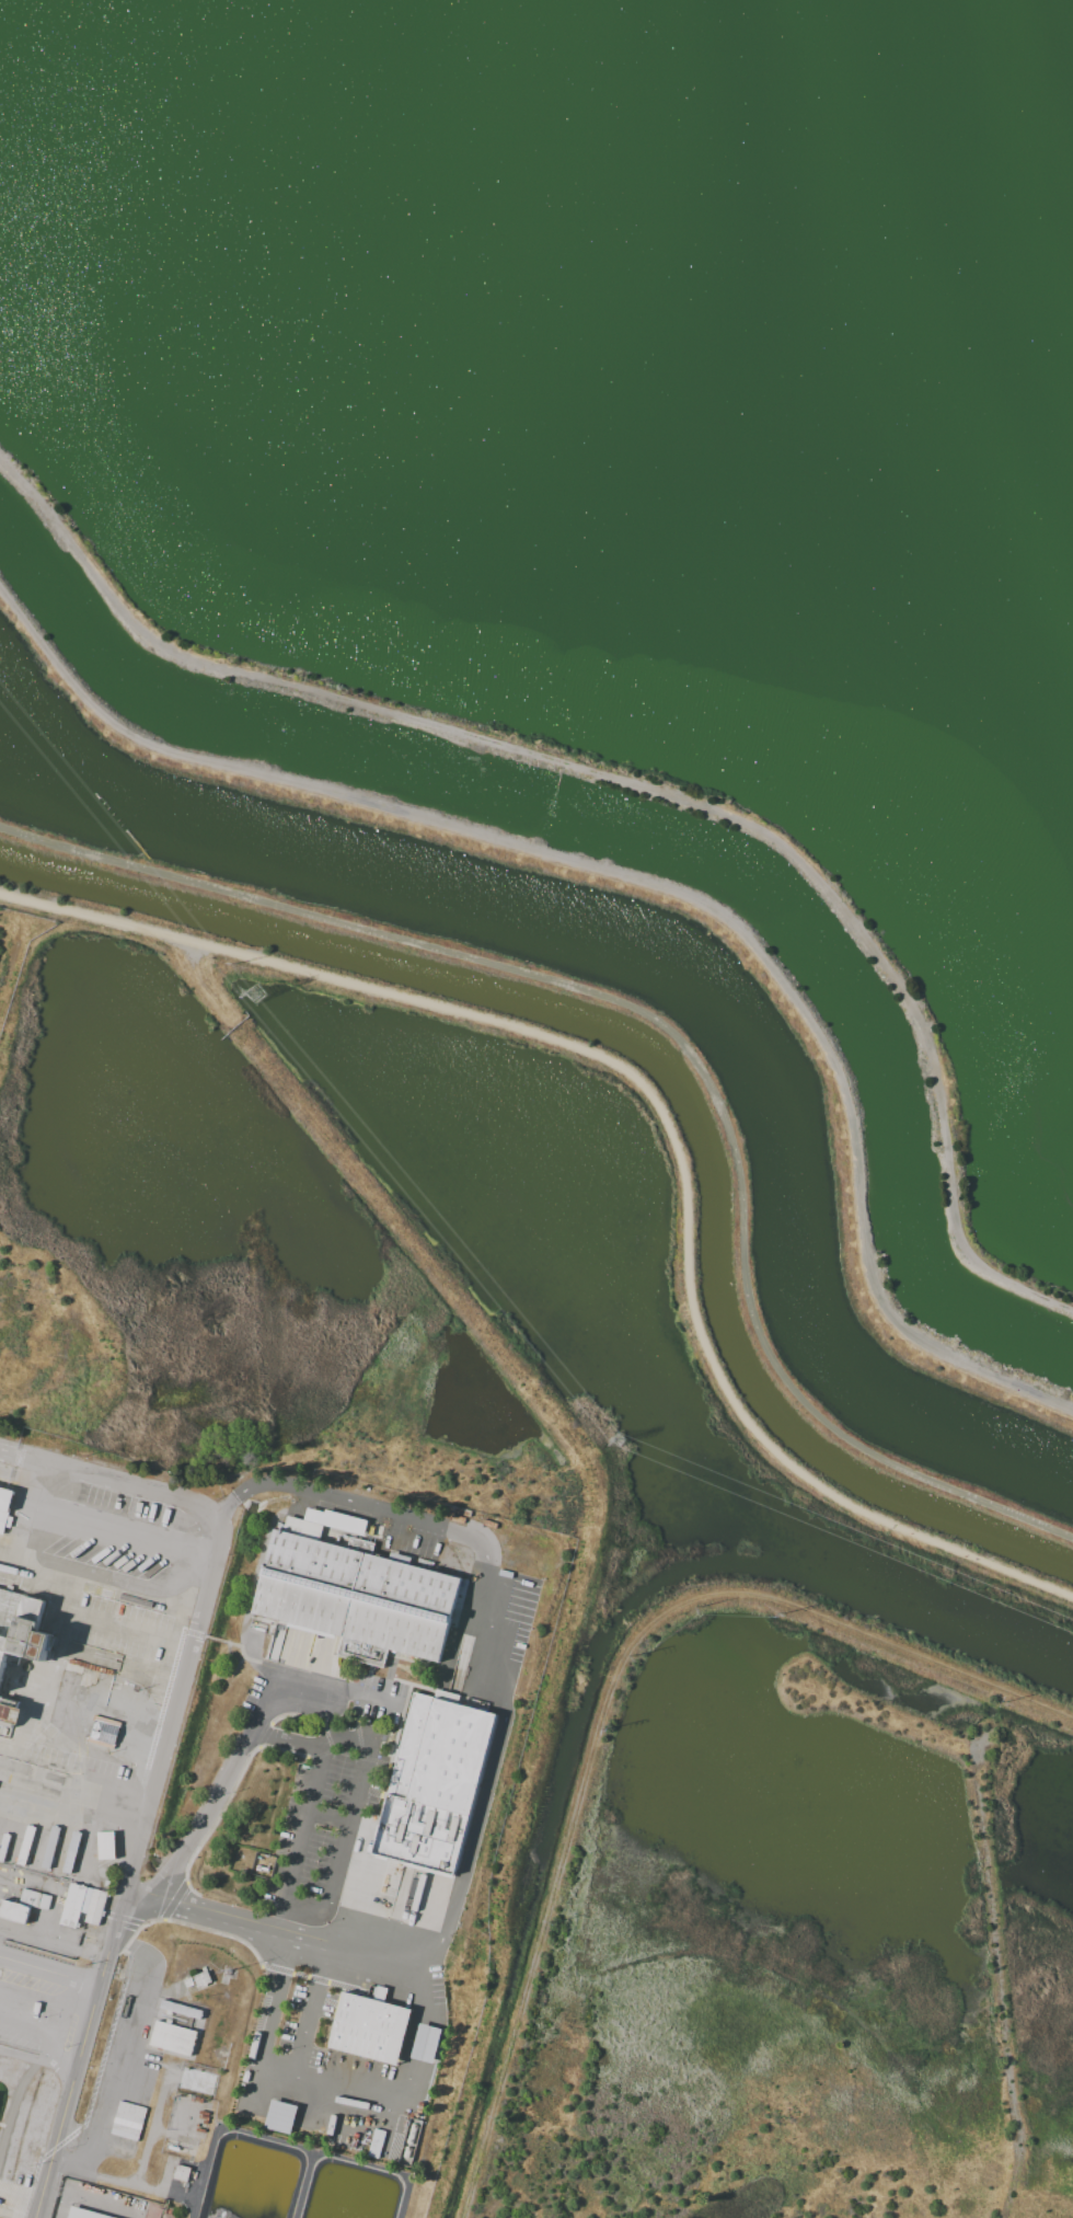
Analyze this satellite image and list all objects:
road: (636, 781)
road: (648, 890)
power tower: (257, 997)
road: (673, 1033)
road: (659, 1112)
power tower: (619, 1445)
road: (108, 1482)
road: (292, 1487)
building: (5, 1510)
road: (446, 1525)
road: (120, 1538)
building: (355, 1597)
road: (493, 1627)
road: (125, 1631)
building: (22, 1640)
road: (489, 1696)
road: (339, 1697)
road: (267, 1706)
road: (99, 1734)
road: (311, 1745)
road: (76, 1778)
building: (431, 1786)
road: (70, 1817)
road: (205, 1817)
road: (302, 1825)
road: (346, 1830)
road: (471, 1838)
building: (104, 1844)
road: (131, 1868)
building: (33, 1899)
building: (81, 1906)
building: (13, 1911)
road: (301, 1914)
road: (275, 1933)
road: (49, 1967)
road: (31, 1995)
road: (276, 2004)
building: (180, 2009)
road: (310, 2013)
road: (59, 2014)
road: (26, 2029)
building: (368, 2030)
building: (171, 2037)
road: (408, 2039)
building: (425, 2043)
road: (127, 2053)
road: (24, 2058)
road: (61, 2065)
road: (325, 2088)
building: (279, 2116)
road: (152, 2131)
building: (181, 2172)
road: (118, 2186)
building: (84, 2215)

